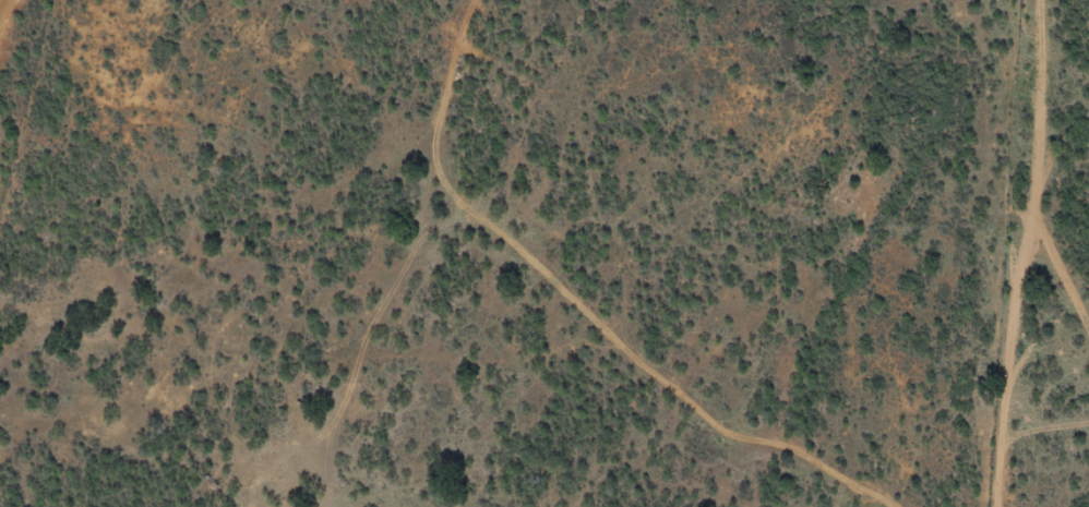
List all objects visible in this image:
road: (1038, 253)

